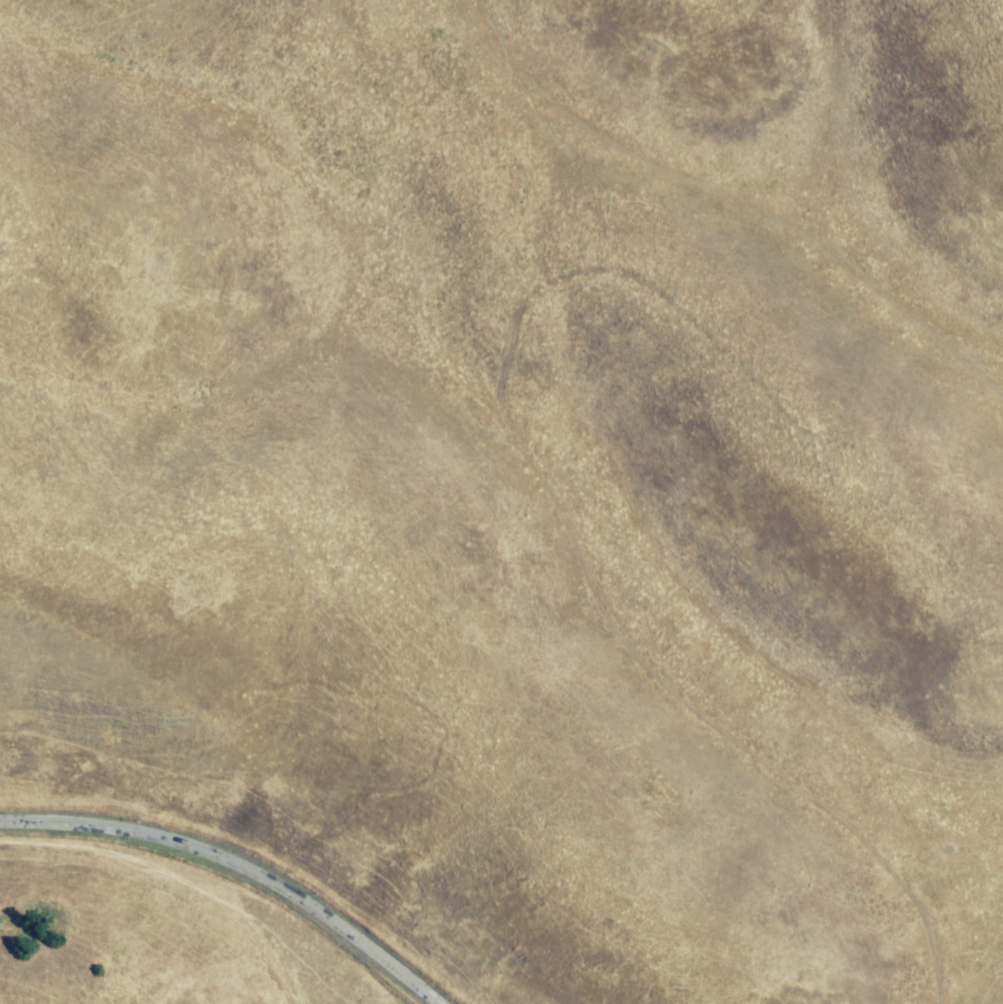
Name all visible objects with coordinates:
road: (232, 868)

